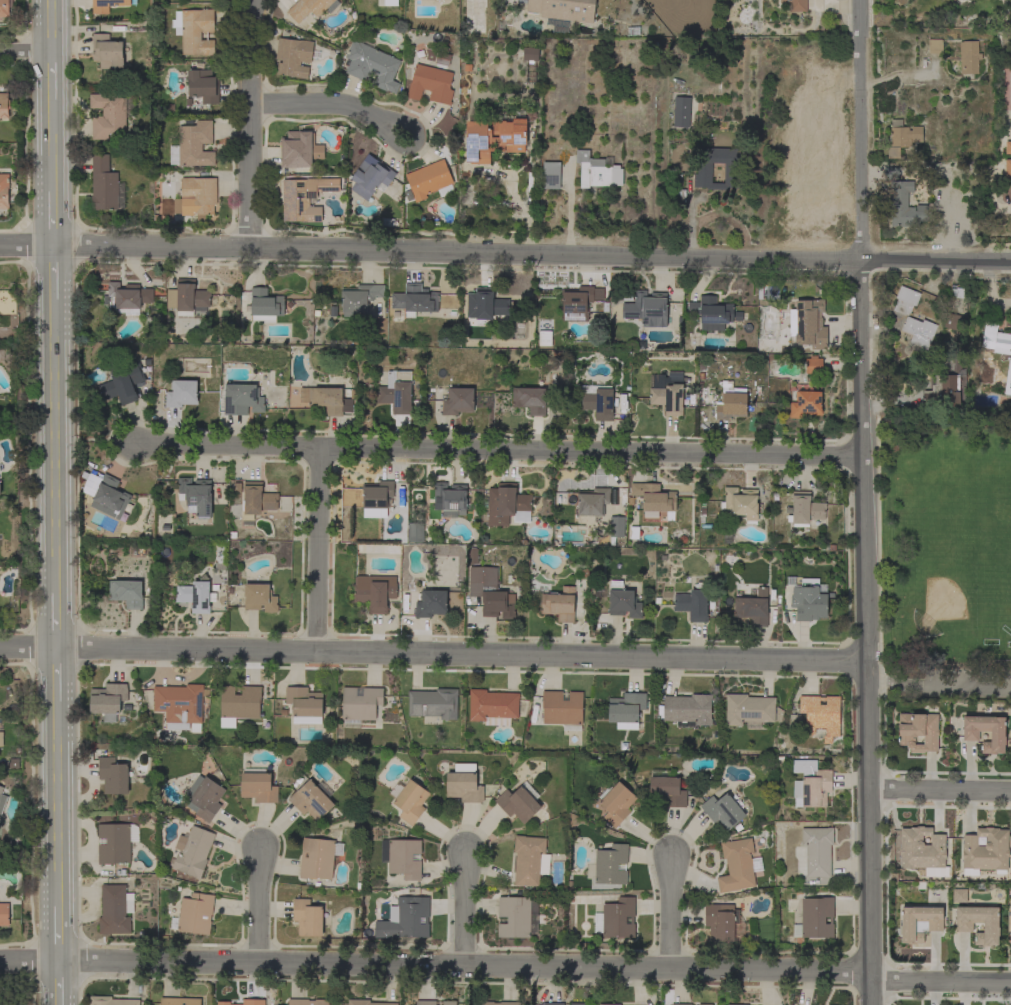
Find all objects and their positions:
building: (386, 2)
building: (108, 5)
building: (795, 5)
building: (4, 8)
building: (308, 8)
building: (562, 12)
road: (52, 25)
building: (194, 30)
building: (935, 46)
road: (26, 51)
building: (107, 52)
building: (529, 54)
building: (293, 57)
building: (969, 57)
building: (372, 66)
road: (53, 80)
building: (432, 81)
building: (201, 85)
building: (4, 105)
road: (333, 106)
building: (680, 111)
building: (110, 114)
road: (253, 124)
building: (902, 137)
building: (493, 139)
building: (193, 145)
building: (1007, 147)
road: (54, 148)
building: (299, 149)
building: (1007, 168)
building: (597, 171)
building: (702, 173)
building: (892, 174)
building: (551, 175)
building: (371, 178)
building: (429, 180)
building: (105, 185)
building: (4, 191)
building: (197, 196)
building: (305, 198)
building: (905, 206)
road: (54, 216)
road: (505, 254)
building: (129, 297)
building: (186, 297)
building: (359, 299)
building: (415, 299)
building: (905, 300)
building: (579, 302)
building: (265, 305)
building: (485, 305)
building: (647, 309)
building: (710, 313)
building: (952, 321)
building: (808, 324)
building: (919, 331)
building: (544, 338)
building: (995, 339)
building: (813, 365)
building: (1008, 380)
building: (123, 384)
building: (396, 392)
building: (666, 392)
building: (943, 392)
building: (181, 394)
building: (243, 400)
building: (327, 400)
building: (530, 400)
building: (458, 401)
building: (597, 401)
building: (730, 402)
building: (805, 404)
road: (56, 415)
road: (497, 451)
building: (106, 494)
building: (195, 496)
building: (376, 499)
building: (449, 499)
building: (654, 499)
building: (256, 500)
building: (741, 502)
road: (866, 502)
building: (592, 503)
building: (507, 505)
building: (805, 509)
building: (616, 528)
building: (415, 531)
park: (946, 542)
road: (322, 552)
building: (473, 556)
building: (375, 592)
building: (126, 593)
building: (490, 593)
building: (196, 595)
building: (259, 598)
building: (808, 598)
building: (623, 601)
building: (692, 603)
building: (431, 604)
building: (559, 604)
park: (942, 604)
building: (753, 607)
road: (57, 617)
road: (434, 655)
road: (57, 680)
road: (940, 686)
building: (108, 700)
building: (433, 703)
building: (239, 704)
building: (304, 704)
building: (180, 705)
building: (359, 705)
building: (493, 707)
building: (562, 709)
building: (688, 709)
building: (626, 710)
building: (749, 710)
building: (821, 715)
building: (918, 731)
building: (970, 734)
building: (1, 738)
building: (113, 775)
building: (463, 784)
building: (810, 784)
building: (258, 785)
building: (666, 788)
road: (940, 791)
building: (205, 797)
building: (311, 799)
building: (2, 800)
building: (409, 801)
building: (519, 802)
building: (617, 803)
road: (58, 806)
building: (722, 810)
building: (116, 842)
building: (817, 850)
building: (192, 851)
building: (923, 851)
building: (985, 851)
building: (401, 857)
building: (318, 858)
building: (529, 859)
building: (610, 865)
building: (738, 865)
building: (959, 896)
road: (259, 904)
building: (115, 909)
road: (465, 910)
road: (671, 911)
building: (4, 914)
building: (194, 914)
building: (307, 917)
building: (517, 917)
building: (615, 918)
building: (814, 918)
building: (405, 919)
building: (934, 923)
building: (723, 924)
building: (964, 925)
road: (59, 929)
road: (507, 966)
road: (59, 982)
building: (111, 1001)
building: (179, 1001)
building: (245, 1002)
building: (307, 1002)
building: (366, 1002)
building: (425, 1002)
building: (448, 1002)
building: (498, 1003)
building: (553, 1003)
building: (577, 1004)
building: (609, 1004)
building: (681, 1004)
building: (704, 1004)
building: (734, 1004)

